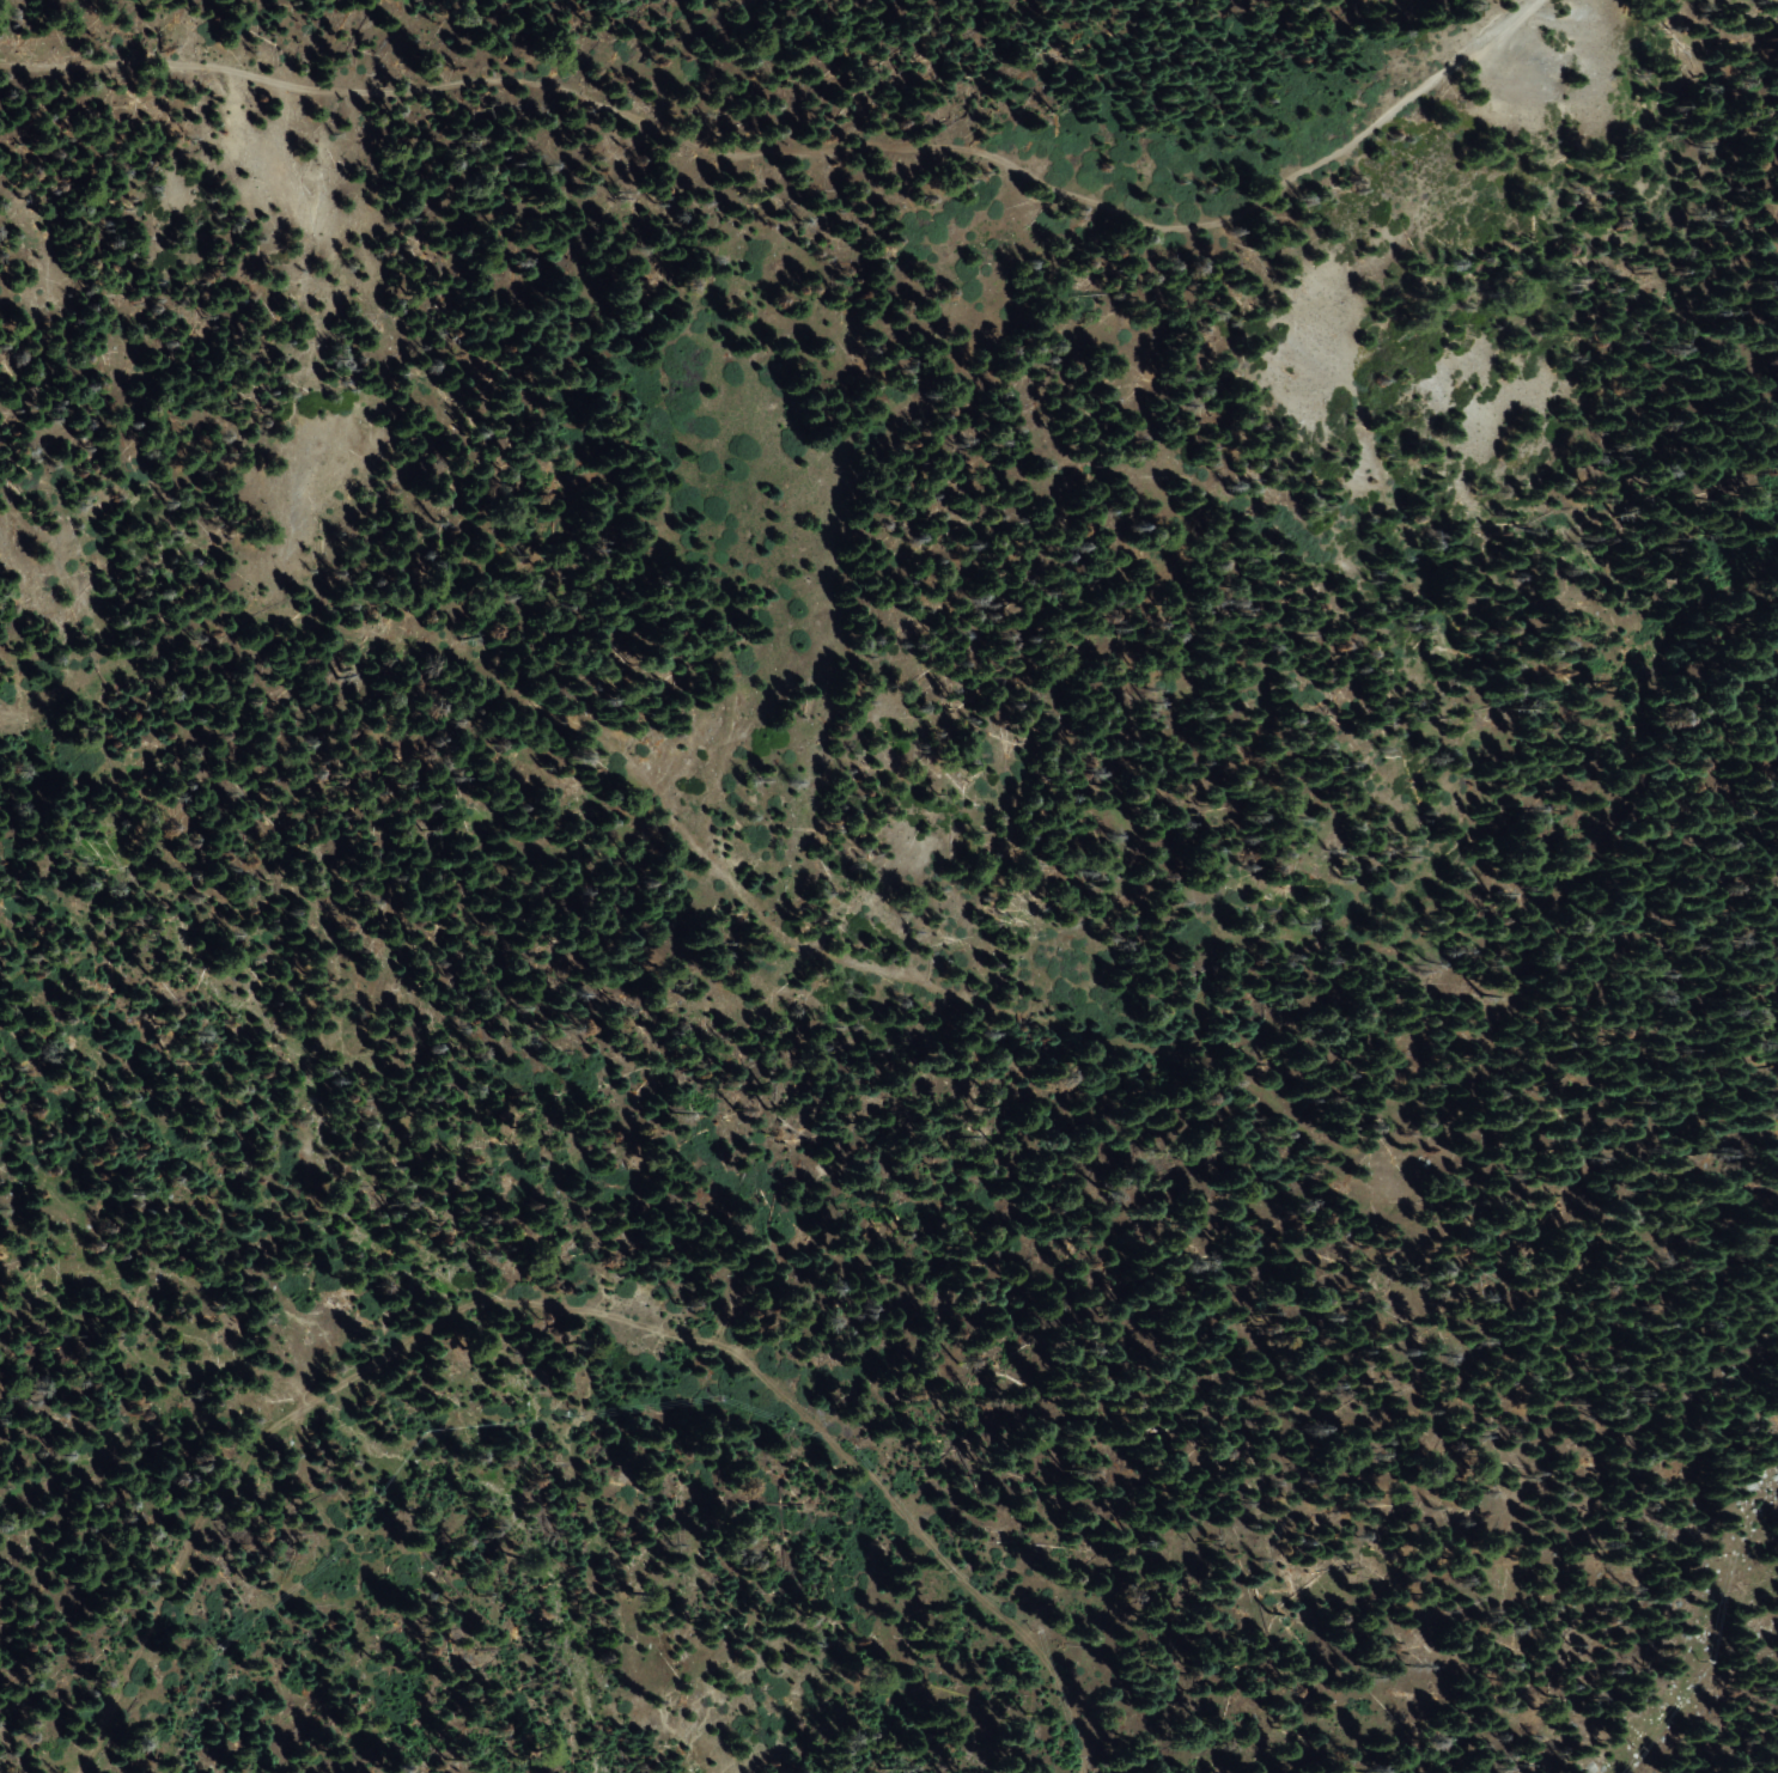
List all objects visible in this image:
road: (809, 154)
road: (619, 756)
road: (567, 1309)

